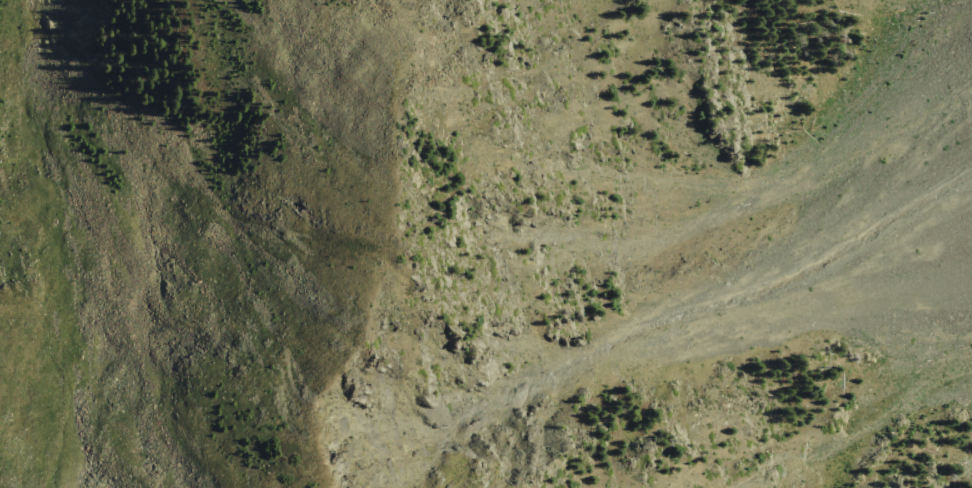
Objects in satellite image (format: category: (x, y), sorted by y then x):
ski resort: (174, 233)

